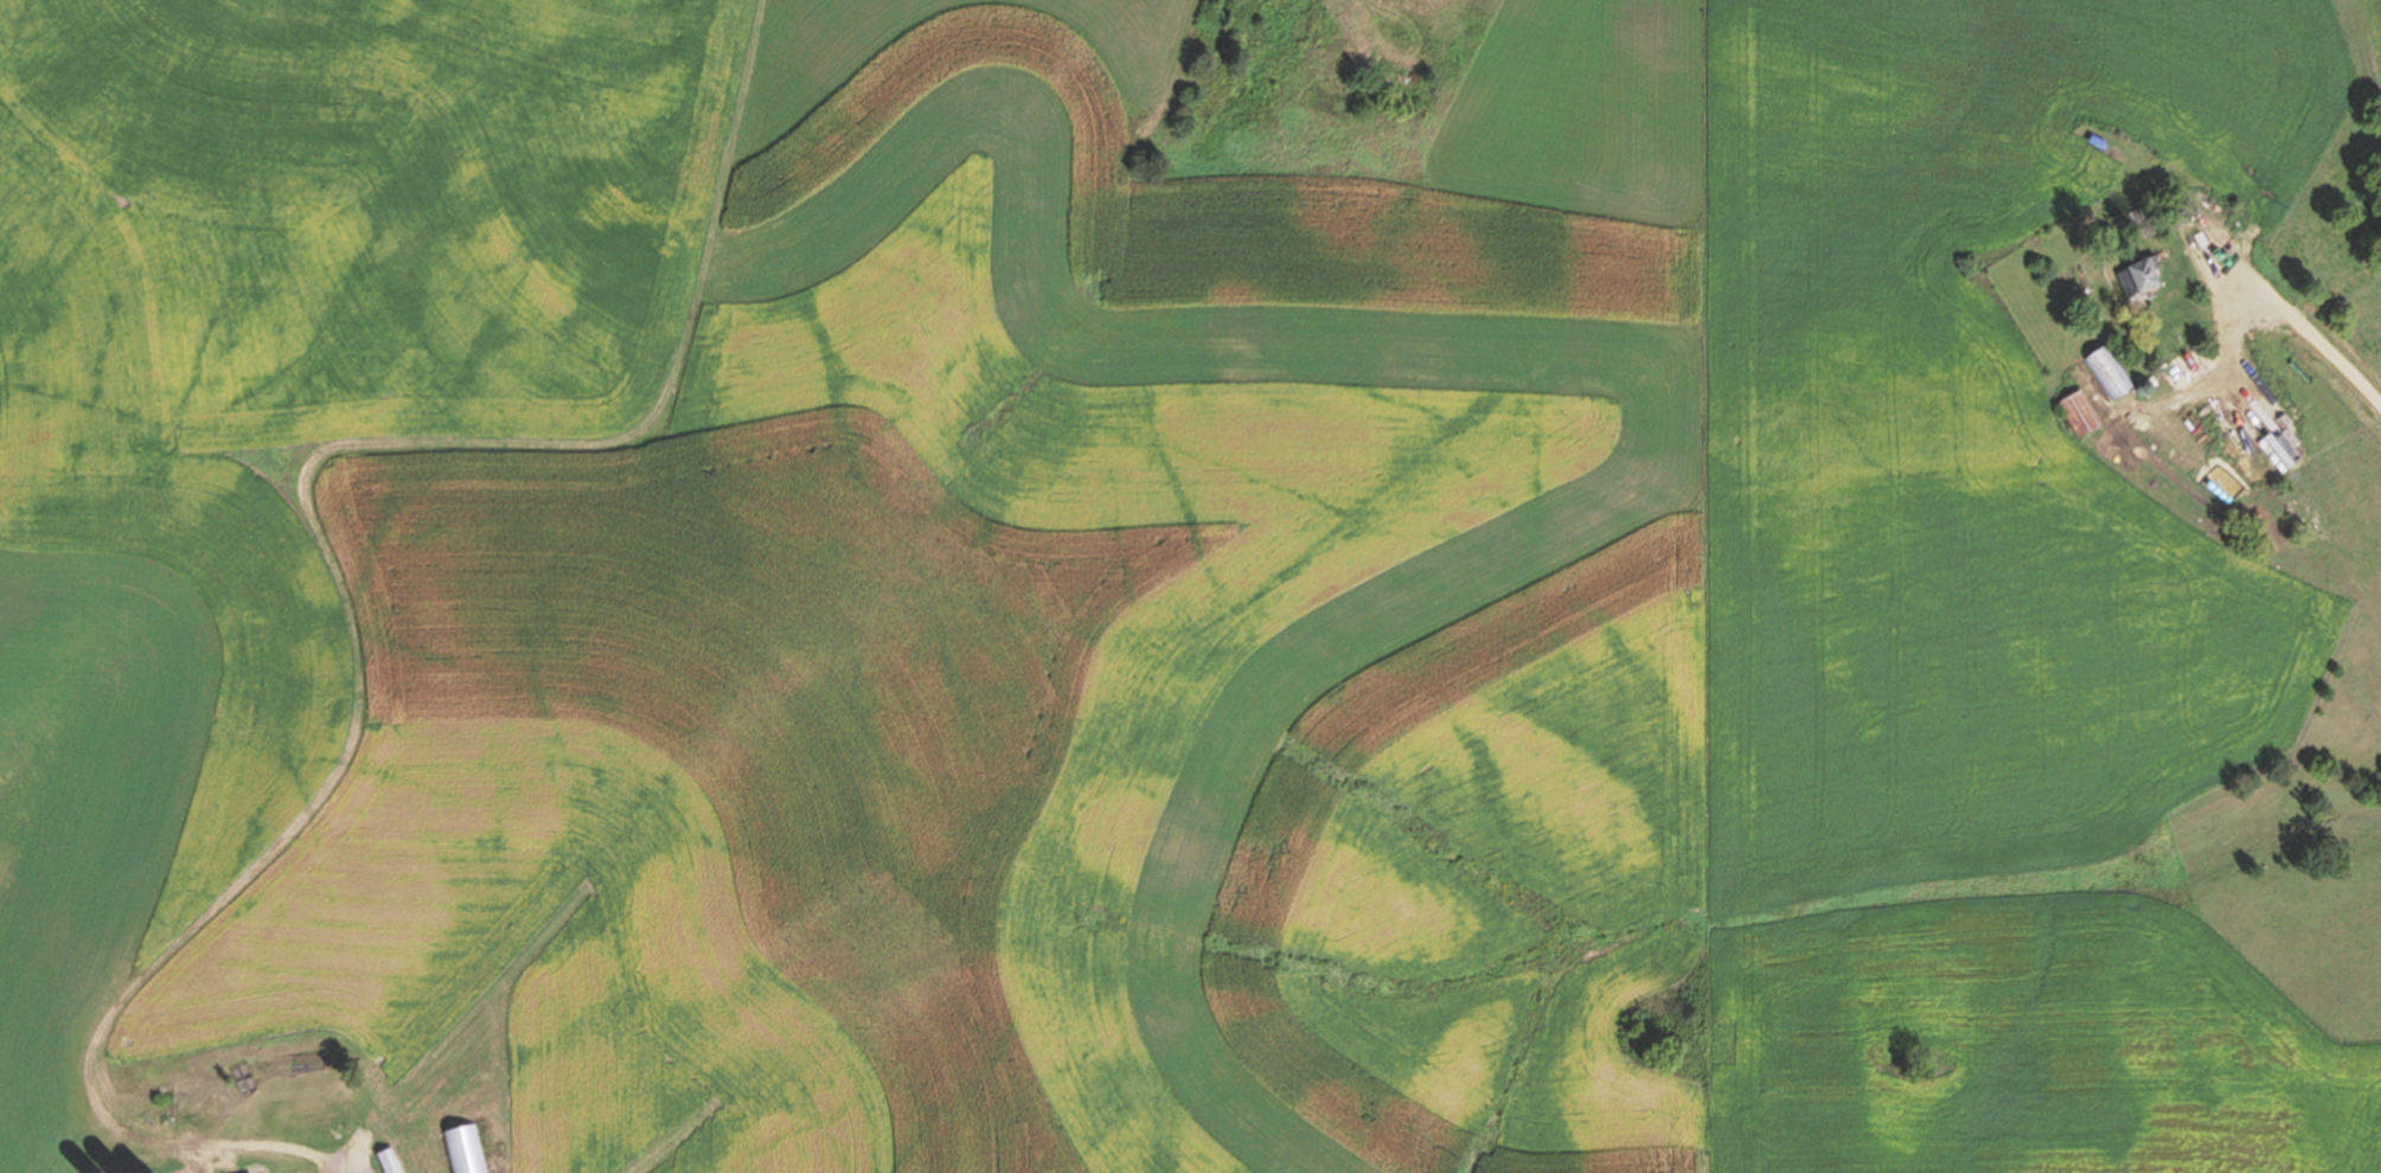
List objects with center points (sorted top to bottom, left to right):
building: (2138, 276)
road: (2298, 320)
building: (2108, 372)
building: (2078, 414)
building: (2239, 419)
building: (466, 1149)
building: (389, 1161)

